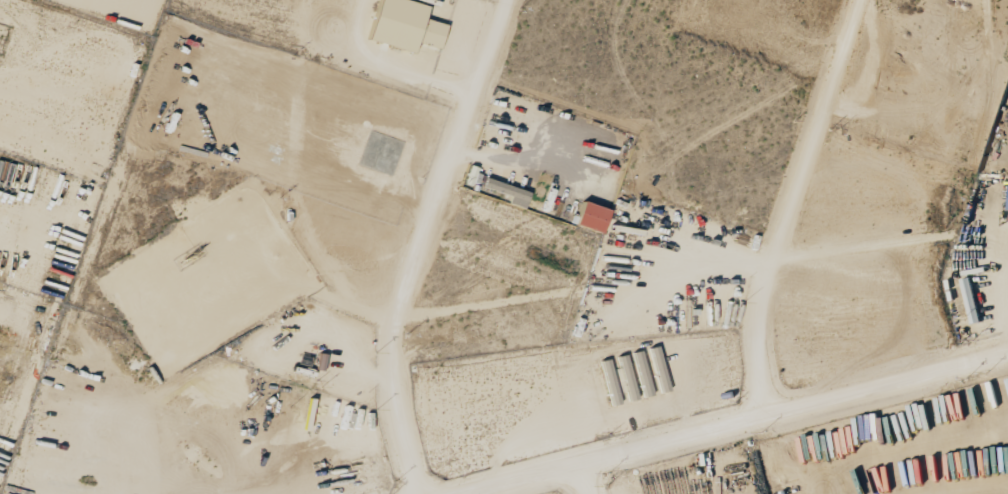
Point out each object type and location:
building: (407, 25)
building: (507, 189)
road: (783, 201)
building: (594, 217)
road: (925, 238)
road: (415, 242)
petroleum well: (189, 246)
road: (1006, 251)
road: (739, 423)
road: (596, 477)

